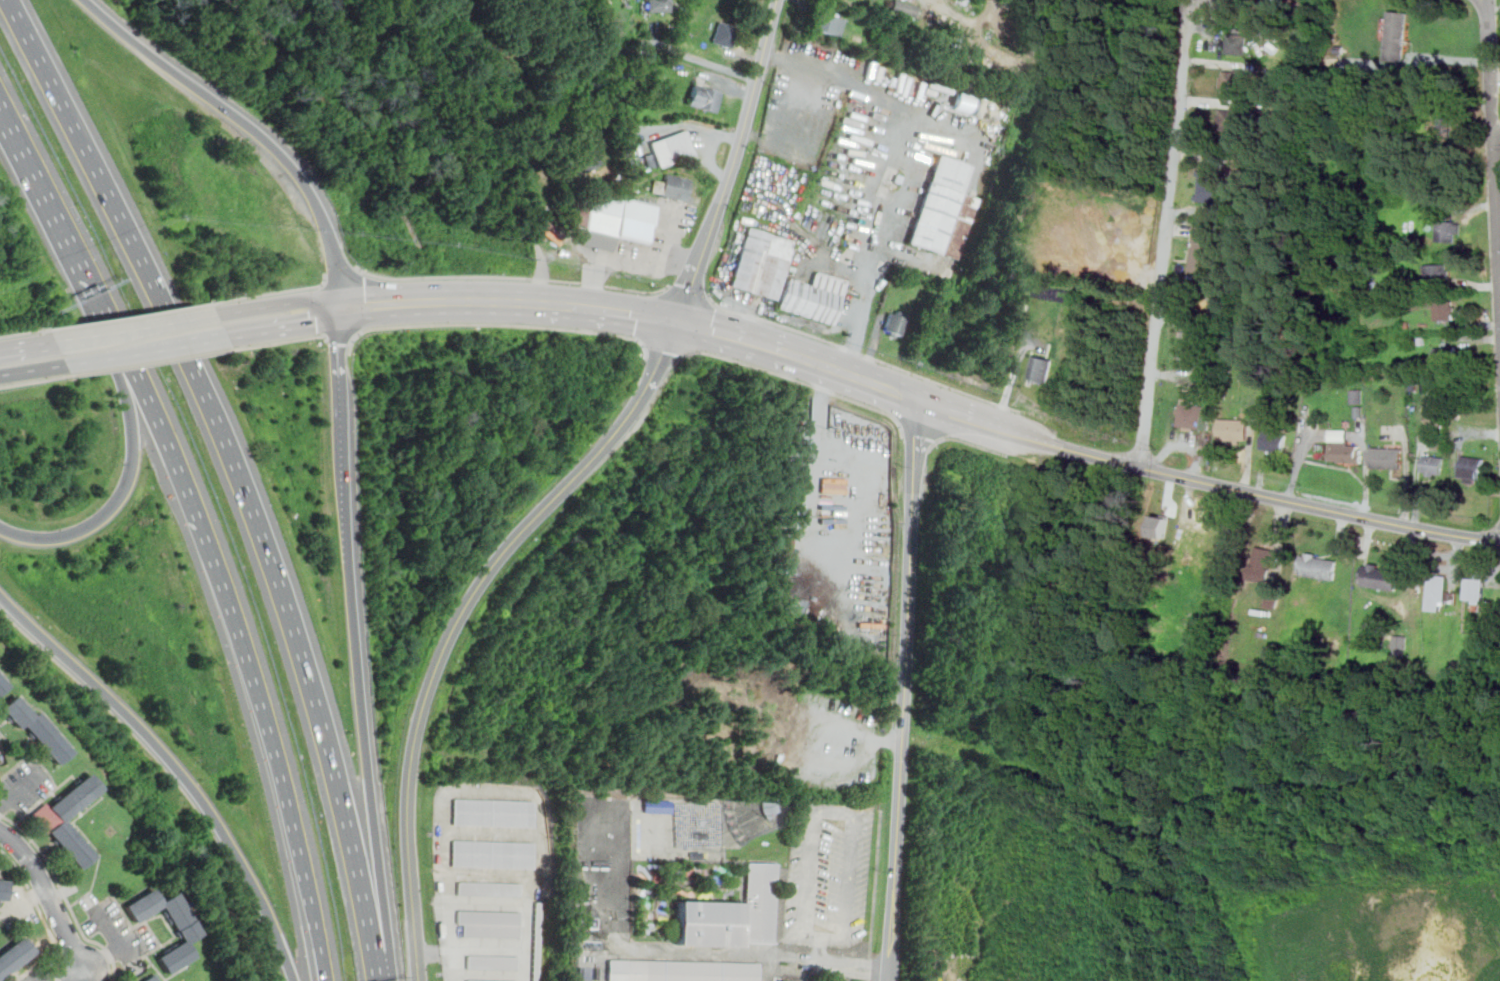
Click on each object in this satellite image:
building: (658, 5)
building: (905, 7)
building: (827, 23)
building: (725, 33)
building: (1397, 35)
building: (1236, 43)
road: (709, 62)
road: (845, 75)
building: (1233, 80)
building: (705, 99)
building: (962, 103)
building: (1229, 118)
road: (745, 122)
road: (248, 127)
road: (668, 127)
building: (1444, 129)
building: (672, 148)
road: (1493, 150)
building: (587, 158)
road: (709, 159)
road: (912, 178)
building: (1209, 186)
building: (676, 187)
building: (944, 209)
building: (613, 221)
road: (62, 230)
building: (1449, 231)
road: (1166, 234)
building: (1202, 250)
road: (624, 261)
building: (1090, 262)
building: (761, 264)
building: (1437, 274)
road: (688, 282)
building: (813, 297)
road: (509, 300)
road: (391, 302)
road: (274, 305)
traffic signals: (335, 308)
building: (1446, 309)
road: (622, 312)
traffic signals: (675, 322)
building: (895, 323)
road: (153, 324)
road: (282, 328)
road: (728, 334)
road: (73, 337)
road: (27, 344)
road: (190, 344)
building: (1191, 346)
building: (1447, 355)
road: (110, 357)
building: (1040, 368)
road: (33, 369)
road: (853, 375)
road: (337, 376)
road: (1013, 377)
building: (1357, 396)
building: (1191, 413)
road: (970, 418)
building: (1234, 429)
building: (1274, 440)
road: (917, 447)
building: (1343, 447)
building: (1388, 456)
building: (1433, 464)
building: (1472, 466)
road: (808, 468)
road: (238, 473)
road: (1407, 482)
road: (184, 484)
building: (833, 485)
road: (123, 491)
road: (1256, 493)
building: (1229, 546)
building: (1263, 563)
building: (1319, 566)
building: (1380, 575)
building: (1475, 587)
building: (1438, 591)
road: (457, 618)
building: (3, 685)
road: (360, 713)
building: (39, 730)
road: (903, 730)
road: (40, 761)
road: (15, 767)
road: (175, 767)
road: (491, 792)
road: (285, 800)
road: (36, 806)
building: (658, 806)
road: (832, 811)
building: (494, 813)
building: (57, 827)
building: (683, 828)
road: (494, 833)
building: (493, 854)
road: (493, 875)
theme park: (716, 885)
building: (4, 888)
building: (489, 889)
road: (64, 894)
road: (874, 895)
road: (48, 897)
road: (490, 903)
building: (759, 903)
road: (4, 909)
road: (40, 910)
building: (489, 923)
building: (711, 923)
building: (187, 929)
road: (156, 936)
building: (540, 941)
road: (121, 943)
road: (490, 947)
road: (826, 952)
building: (15, 959)
building: (492, 962)
road: (36, 963)
road: (843, 965)
building: (682, 971)
road: (491, 974)
road: (889, 974)
road: (74, 975)
road: (92, 975)
road: (122, 976)
building: (154, 978)
building: (475, 980)

